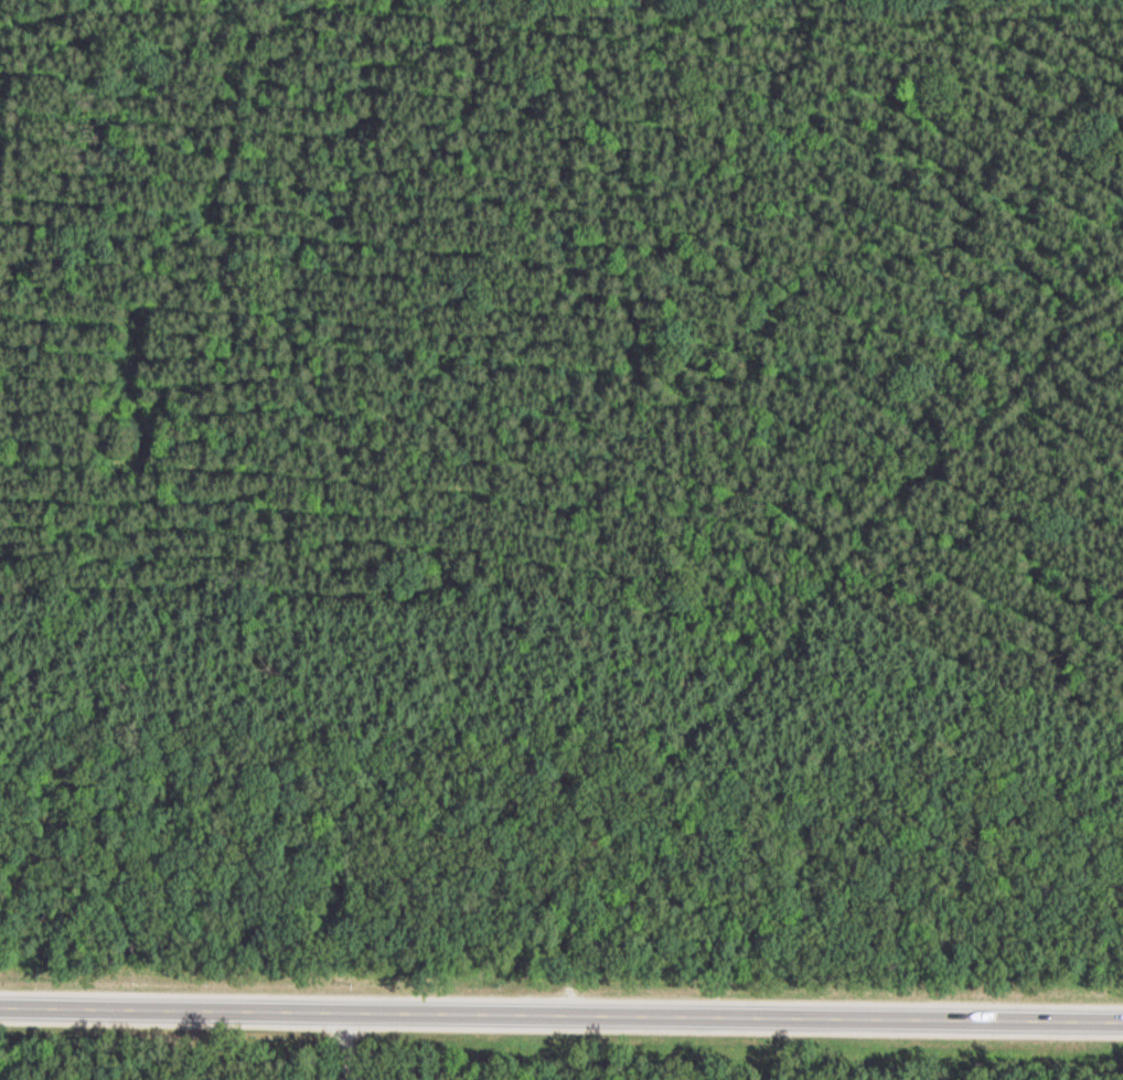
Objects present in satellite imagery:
road: (740, 550)
road: (560, 1016)

